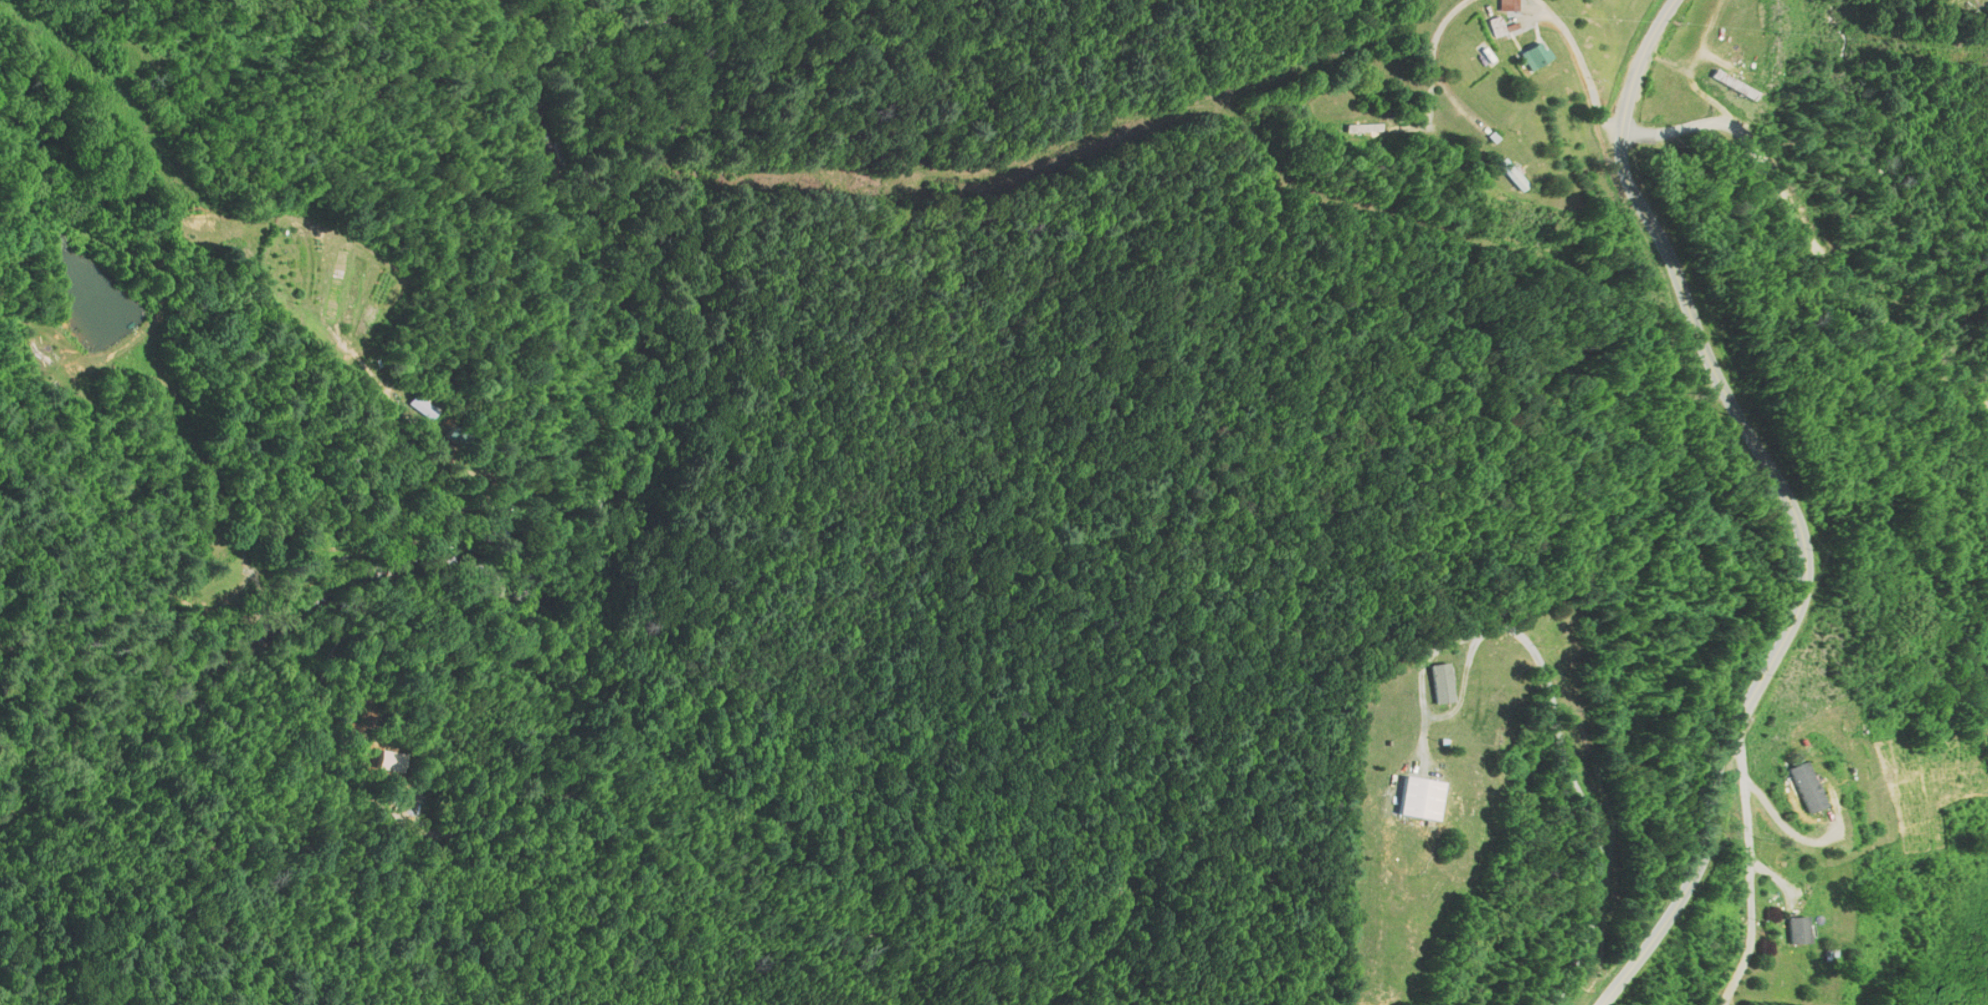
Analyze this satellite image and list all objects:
building: (1505, 5)
building: (1973, 17)
building: (1495, 27)
road: (1696, 54)
building: (1532, 56)
road: (1577, 72)
road: (1432, 85)
road: (1461, 101)
building: (1511, 174)
road: (1808, 236)
building: (421, 407)
road: (1790, 505)
building: (1438, 682)
building: (1809, 786)
road: (1579, 793)
building: (1418, 797)
road: (638, 822)
road: (1772, 829)
road: (1734, 863)
building: (1797, 929)

